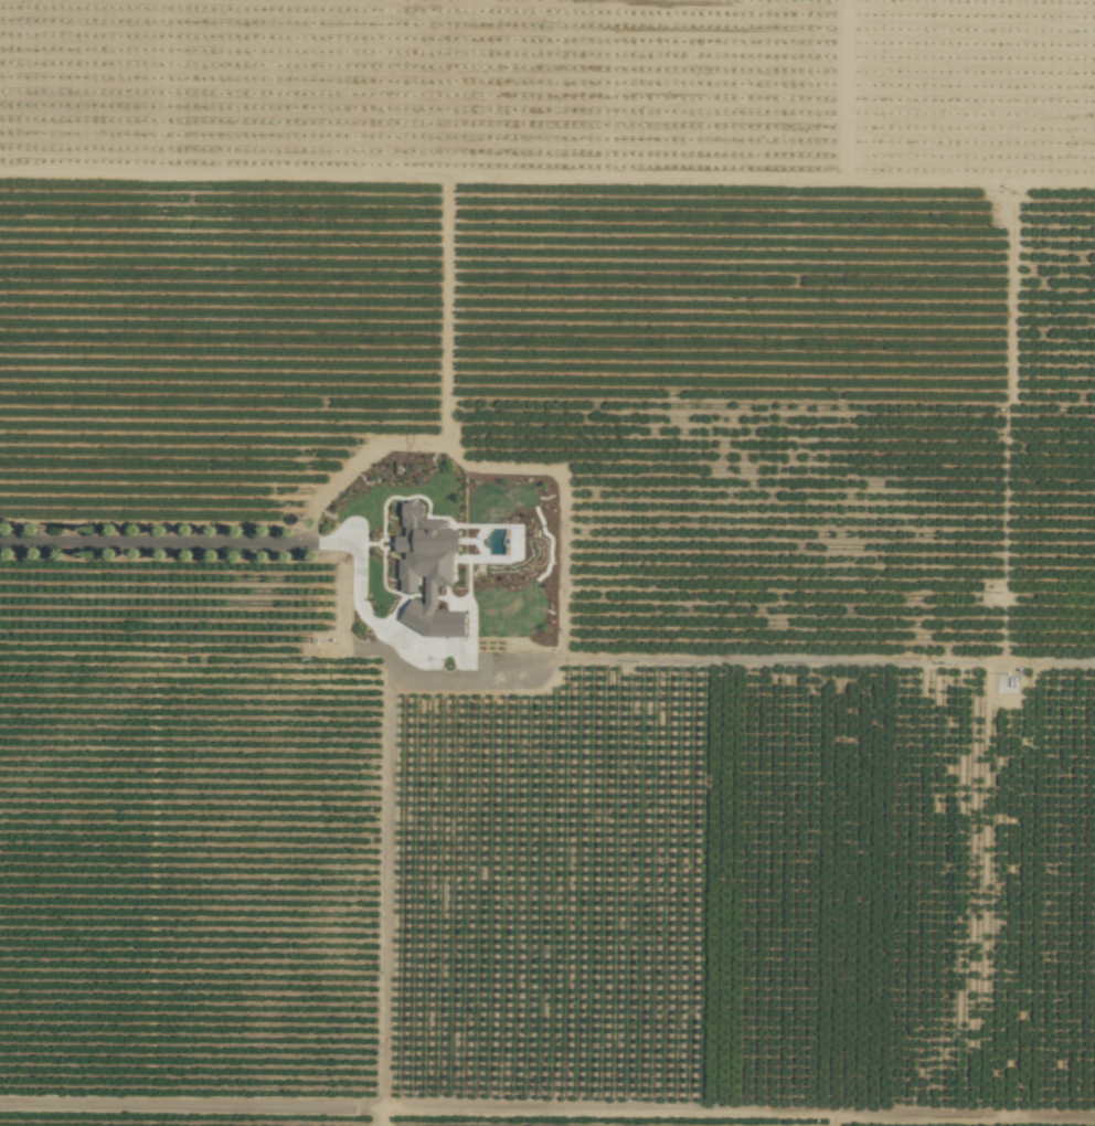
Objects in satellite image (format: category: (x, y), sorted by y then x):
road: (178, 541)
building: (428, 570)
road: (504, 649)

